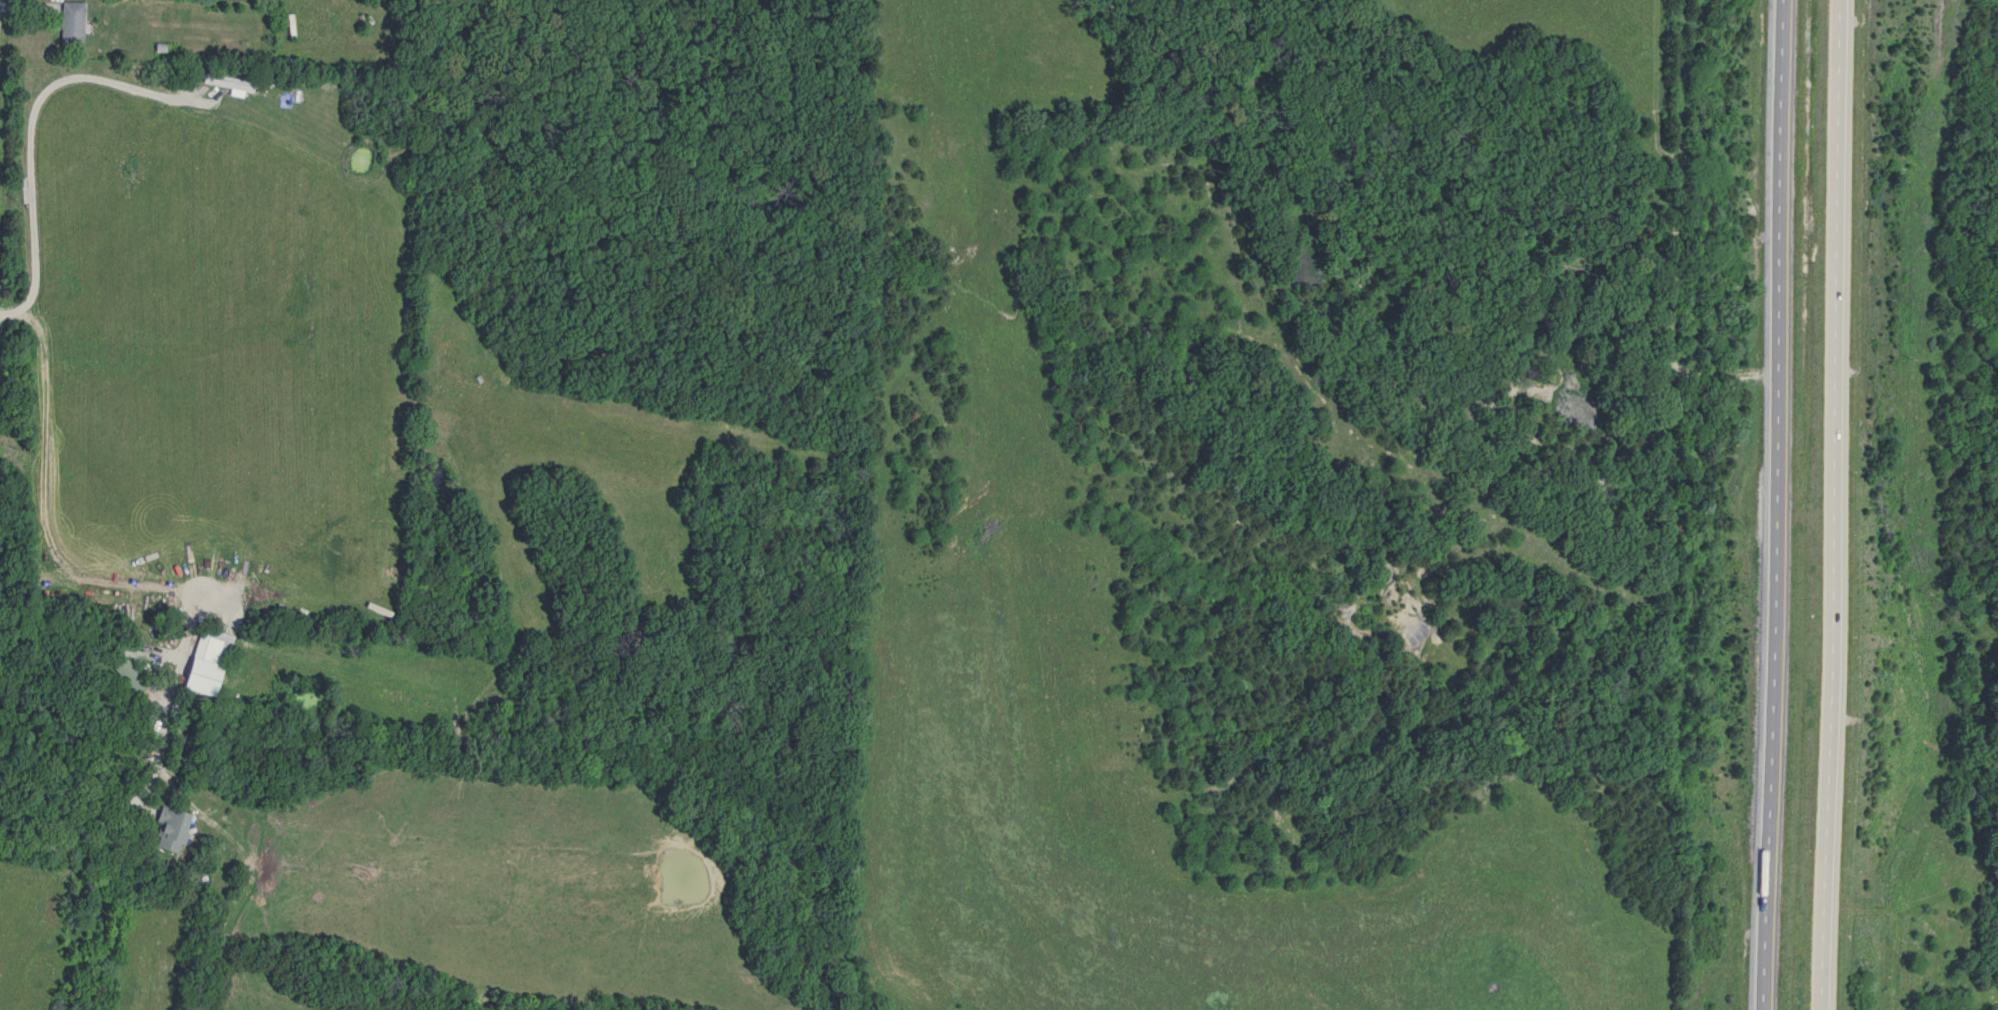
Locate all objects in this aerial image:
building: (69, 24)
road: (28, 116)
road: (1786, 505)
road: (1846, 505)
road: (160, 584)
building: (208, 647)
building: (128, 675)
building: (167, 831)

